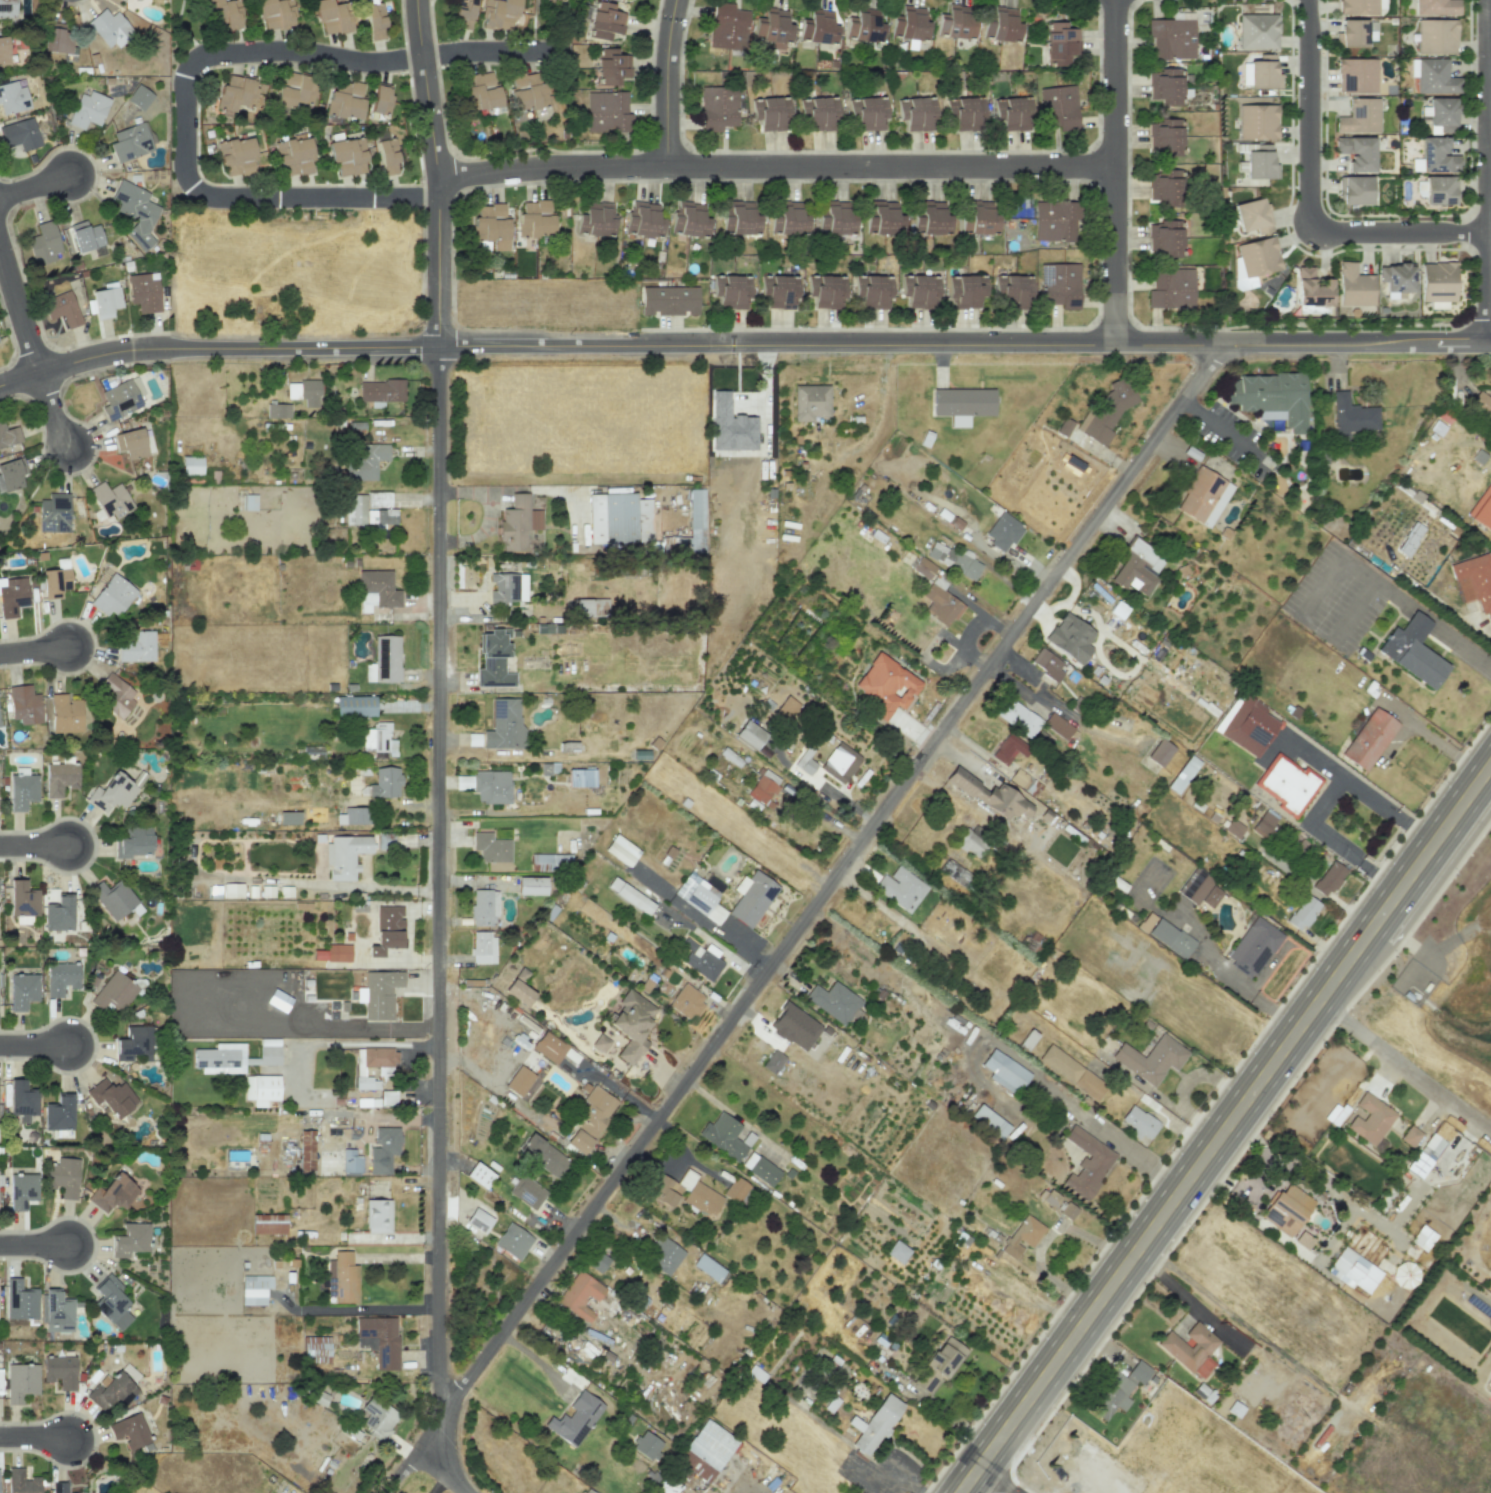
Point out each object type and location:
building: (1357, 6)
building: (1436, 7)
building: (7, 9)
building: (463, 9)
building: (224, 13)
building: (275, 14)
building: (498, 14)
building: (331, 17)
building: (604, 20)
building: (956, 21)
building: (375, 22)
building: (909, 24)
building: (863, 25)
building: (1002, 25)
building: (727, 26)
building: (772, 27)
building: (817, 27)
building: (109, 28)
building: (1258, 30)
building: (1350, 33)
building: (1173, 35)
building: (1436, 35)
building: (1060, 42)
building: (60, 43)
road: (1489, 50)
building: (3, 51)
street lamp: (1471, 54)
road: (363, 61)
building: (610, 65)
building: (1264, 72)
building: (1356, 74)
building: (1435, 76)
road: (666, 82)
building: (1166, 86)
building: (294, 90)
building: (526, 91)
building: (235, 92)
building: (480, 92)
building: (13, 97)
building: (139, 97)
building: (381, 99)
building: (343, 101)
building: (716, 107)
building: (1058, 107)
building: (87, 110)
building: (768, 112)
building: (817, 112)
building: (867, 112)
building: (915, 112)
building: (965, 112)
building: (1012, 112)
building: (1442, 112)
building: (606, 113)
building: (1359, 116)
building: (1258, 121)
building: (20, 135)
building: (1166, 136)
building: (130, 142)
building: (1356, 152)
building: (387, 155)
building: (1436, 155)
building: (237, 156)
building: (347, 156)
road: (773, 165)
building: (1261, 165)
road: (1485, 170)
road: (435, 171)
road: (1112, 171)
road: (34, 185)
building: (1166, 187)
building: (1353, 190)
building: (1439, 190)
road: (263, 197)
road: (1307, 197)
street lamp: (1323, 197)
building: (135, 211)
building: (1253, 215)
building: (739, 218)
building: (835, 218)
building: (882, 218)
building: (978, 218)
building: (534, 219)
building: (596, 219)
building: (643, 219)
building: (689, 219)
building: (788, 219)
building: (1058, 221)
building: (491, 226)
building: (85, 236)
building: (1166, 238)
building: (43, 243)
building: (1259, 256)
building: (1397, 278)
building: (1437, 281)
building: (1059, 284)
building: (1355, 286)
building: (1012, 289)
building: (1311, 289)
building: (778, 290)
building: (824, 290)
building: (872, 290)
building: (919, 290)
building: (1172, 290)
building: (731, 291)
building: (965, 291)
building: (144, 292)
building: (669, 301)
building: (105, 302)
building: (61, 308)
road: (18, 312)
street lamp: (1438, 327)
road: (743, 344)
building: (381, 391)
building: (304, 392)
building: (1275, 395)
building: (121, 398)
building: (810, 402)
building: (1481, 403)
building: (965, 404)
road: (52, 409)
building: (278, 411)
building: (1106, 411)
building: (1352, 414)
building: (730, 426)
road: (1222, 428)
building: (8, 435)
building: (130, 443)
building: (367, 462)
building: (191, 465)
street lamp: (77, 475)
building: (10, 476)
building: (1204, 496)
building: (111, 500)
building: (246, 502)
building: (369, 509)
building: (1483, 512)
building: (53, 513)
building: (622, 517)
building: (517, 523)
building: (692, 526)
building: (1002, 531)
building: (953, 559)
building: (1137, 568)
building: (1476, 580)
building: (55, 582)
road: (1388, 587)
building: (506, 588)
building: (376, 590)
building: (937, 594)
building: (12, 596)
building: (112, 596)
parking lot: (1338, 597)
building: (590, 606)
road: (1351, 609)
building: (136, 647)
road: (33, 648)
building: (1412, 652)
building: (384, 660)
building: (493, 661)
building: (1046, 664)
road: (1026, 673)
building: (885, 686)
building: (114, 694)
building: (24, 705)
building: (355, 706)
building: (786, 709)
road: (1060, 710)
building: (65, 714)
building: (1017, 717)
building: (1247, 722)
building: (504, 724)
building: (1057, 726)
building: (749, 735)
building: (1369, 736)
building: (378, 739)
building: (1008, 749)
building: (1160, 752)
building: (805, 762)
building: (839, 762)
building: (1183, 774)
building: (1017, 777)
building: (60, 778)
building: (580, 778)
building: (1288, 782)
building: (385, 783)
road: (1354, 785)
building: (491, 786)
building: (763, 787)
building: (112, 793)
road: (831, 793)
building: (989, 795)
building: (350, 816)
building: (289, 818)
building: (1264, 825)
building: (1233, 828)
road: (1424, 830)
road: (1332, 839)
building: (384, 841)
building: (133, 842)
building: (970, 843)
road: (1432, 843)
road: (33, 844)
building: (491, 847)
building: (621, 850)
building: (345, 856)
road: (1435, 861)
building: (550, 862)
street lamp: (41, 864)
building: (954, 872)
building: (1328, 879)
road: (439, 880)
building: (531, 885)
building: (899, 887)
building: (1199, 889)
building: (232, 890)
road: (1398, 890)
building: (630, 895)
building: (701, 895)
building: (753, 899)
building: (115, 900)
building: (22, 901)
building: (484, 907)
building: (1303, 912)
building: (58, 913)
road: (805, 919)
building: (387, 930)
road: (725, 934)
building: (1165, 935)
building: (1255, 945)
building: (482, 947)
building: (338, 952)
road: (1204, 952)
building: (701, 962)
road: (1267, 967)
building: (0, 978)
building: (60, 978)
building: (22, 990)
building: (114, 992)
building: (518, 992)
building: (380, 993)
traffic signals: (1318, 999)
building: (686, 1002)
building: (833, 1002)
building: (631, 1024)
street lamp: (40, 1025)
building: (794, 1027)
road: (325, 1042)
building: (134, 1043)
road: (34, 1045)
building: (549, 1047)
building: (1152, 1057)
building: (232, 1058)
building: (773, 1061)
building: (372, 1065)
road: (1404, 1065)
building: (1004, 1072)
building: (1072, 1072)
building: (519, 1081)
building: (261, 1089)
building: (111, 1097)
building: (22, 1100)
building: (59, 1113)
building: (591, 1119)
building: (1370, 1119)
road: (662, 1121)
building: (1140, 1122)
building: (1410, 1136)
building: (723, 1137)
building: (1433, 1144)
building: (383, 1150)
building: (306, 1151)
road: (1238, 1154)
building: (543, 1155)
road: (1139, 1158)
building: (351, 1163)
building: (1086, 1164)
building: (760, 1169)
road: (1259, 1174)
building: (479, 1175)
building: (63, 1177)
building: (22, 1190)
building: (736, 1190)
building: (527, 1192)
building: (683, 1193)
building: (113, 1194)
building: (1287, 1209)
road: (1166, 1210)
building: (1067, 1211)
building: (377, 1216)
building: (478, 1220)
building: (268, 1224)
road: (1384, 1224)
building: (1022, 1236)
building: (130, 1239)
road: (1042, 1239)
building: (1303, 1240)
building: (513, 1241)
road: (33, 1244)
building: (664, 1256)
road: (397, 1257)
building: (599, 1259)
street lamp: (40, 1263)
building: (708, 1268)
building: (1353, 1271)
building: (1405, 1275)
building: (342, 1277)
road: (1175, 1285)
building: (254, 1289)
building: (579, 1296)
building: (111, 1302)
building: (20, 1303)
road: (366, 1309)
building: (56, 1311)
road: (1236, 1317)
building: (378, 1340)
building: (316, 1349)
building: (1191, 1349)
building: (941, 1363)
building: (60, 1371)
building: (21, 1382)
building: (1118, 1390)
building: (110, 1391)
building: (1490, 1391)
building: (317, 1397)
road: (951, 1417)
building: (378, 1418)
building: (575, 1419)
building: (877, 1424)
building: (129, 1431)
road: (33, 1436)
building: (646, 1445)
road: (12, 1449)
building: (706, 1450)
street lamp: (94, 1451)
road: (437, 1475)
road: (996, 1480)
building: (21, 1482)
building: (59, 1487)

